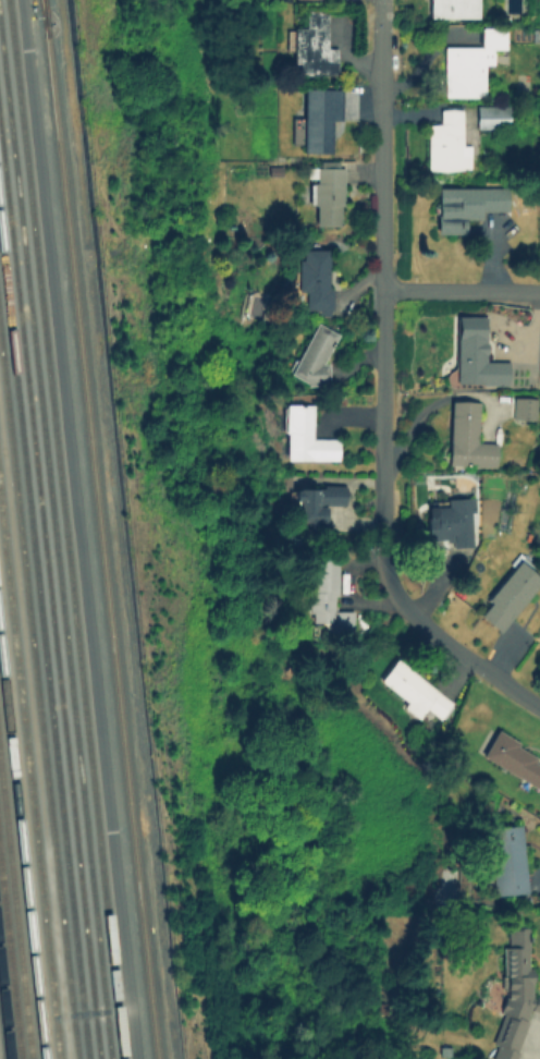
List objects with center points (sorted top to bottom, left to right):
building: (452, 8)
railway: (45, 11)
building: (310, 47)
building: (468, 63)
building: (492, 115)
building: (316, 118)
building: (445, 142)
building: (324, 193)
building: (465, 204)
building: (312, 277)
road: (461, 294)
building: (315, 357)
building: (475, 357)
road: (382, 389)
building: (523, 407)
building: (303, 434)
building: (465, 436)
building: (312, 503)
building: (450, 522)
road: (77, 528)
railway: (100, 528)
railway: (65, 529)
railway: (54, 546)
building: (507, 595)
railway: (49, 596)
building: (324, 596)
railway: (44, 647)
building: (412, 690)
railway: (38, 698)
building: (511, 756)
railway: (29, 779)
railway: (22, 852)
building: (505, 859)
railway: (15, 913)
railway: (10, 965)
building: (511, 993)
railway: (3, 1023)

